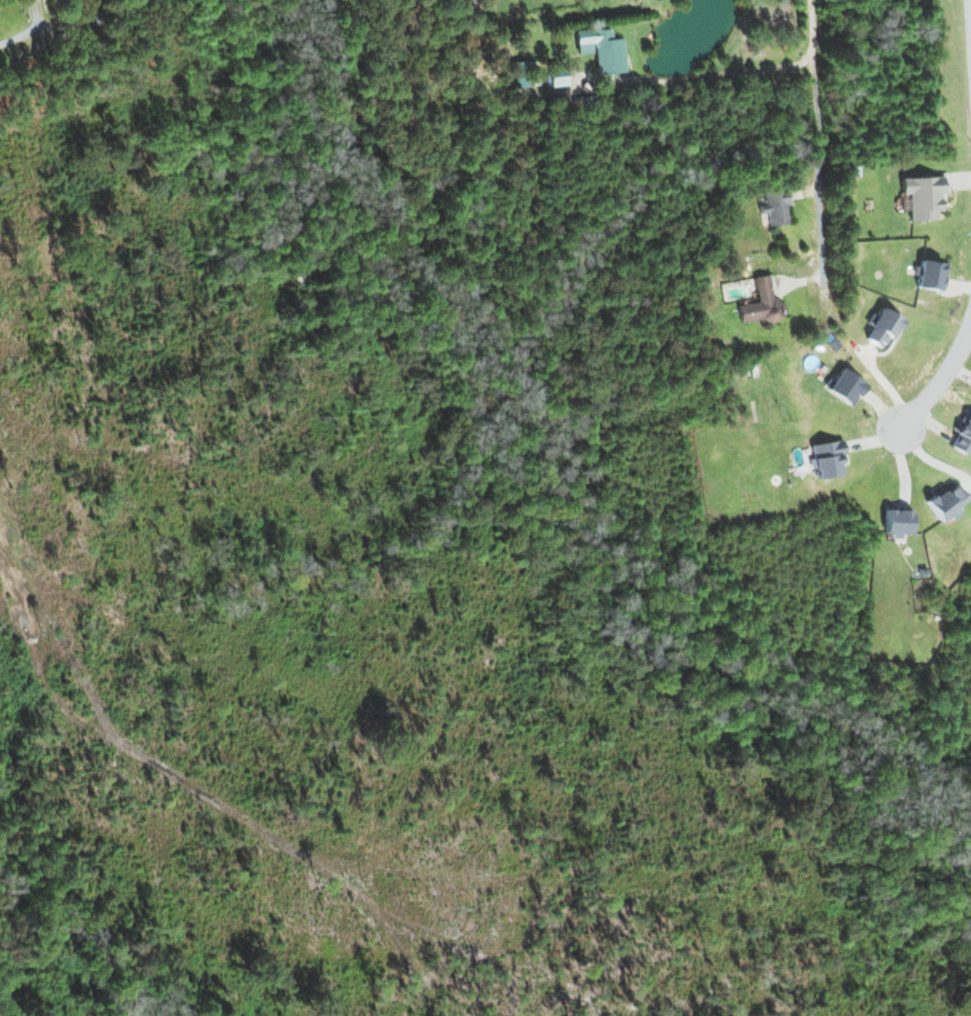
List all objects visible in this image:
road: (21, 37)
building: (601, 49)
building: (520, 74)
road: (712, 76)
building: (558, 77)
road: (818, 150)
building: (921, 197)
building: (774, 208)
building: (930, 275)
building: (761, 304)
building: (882, 328)
road: (939, 384)
building: (845, 387)
building: (963, 435)
building: (827, 458)
building: (945, 503)
building: (897, 521)

